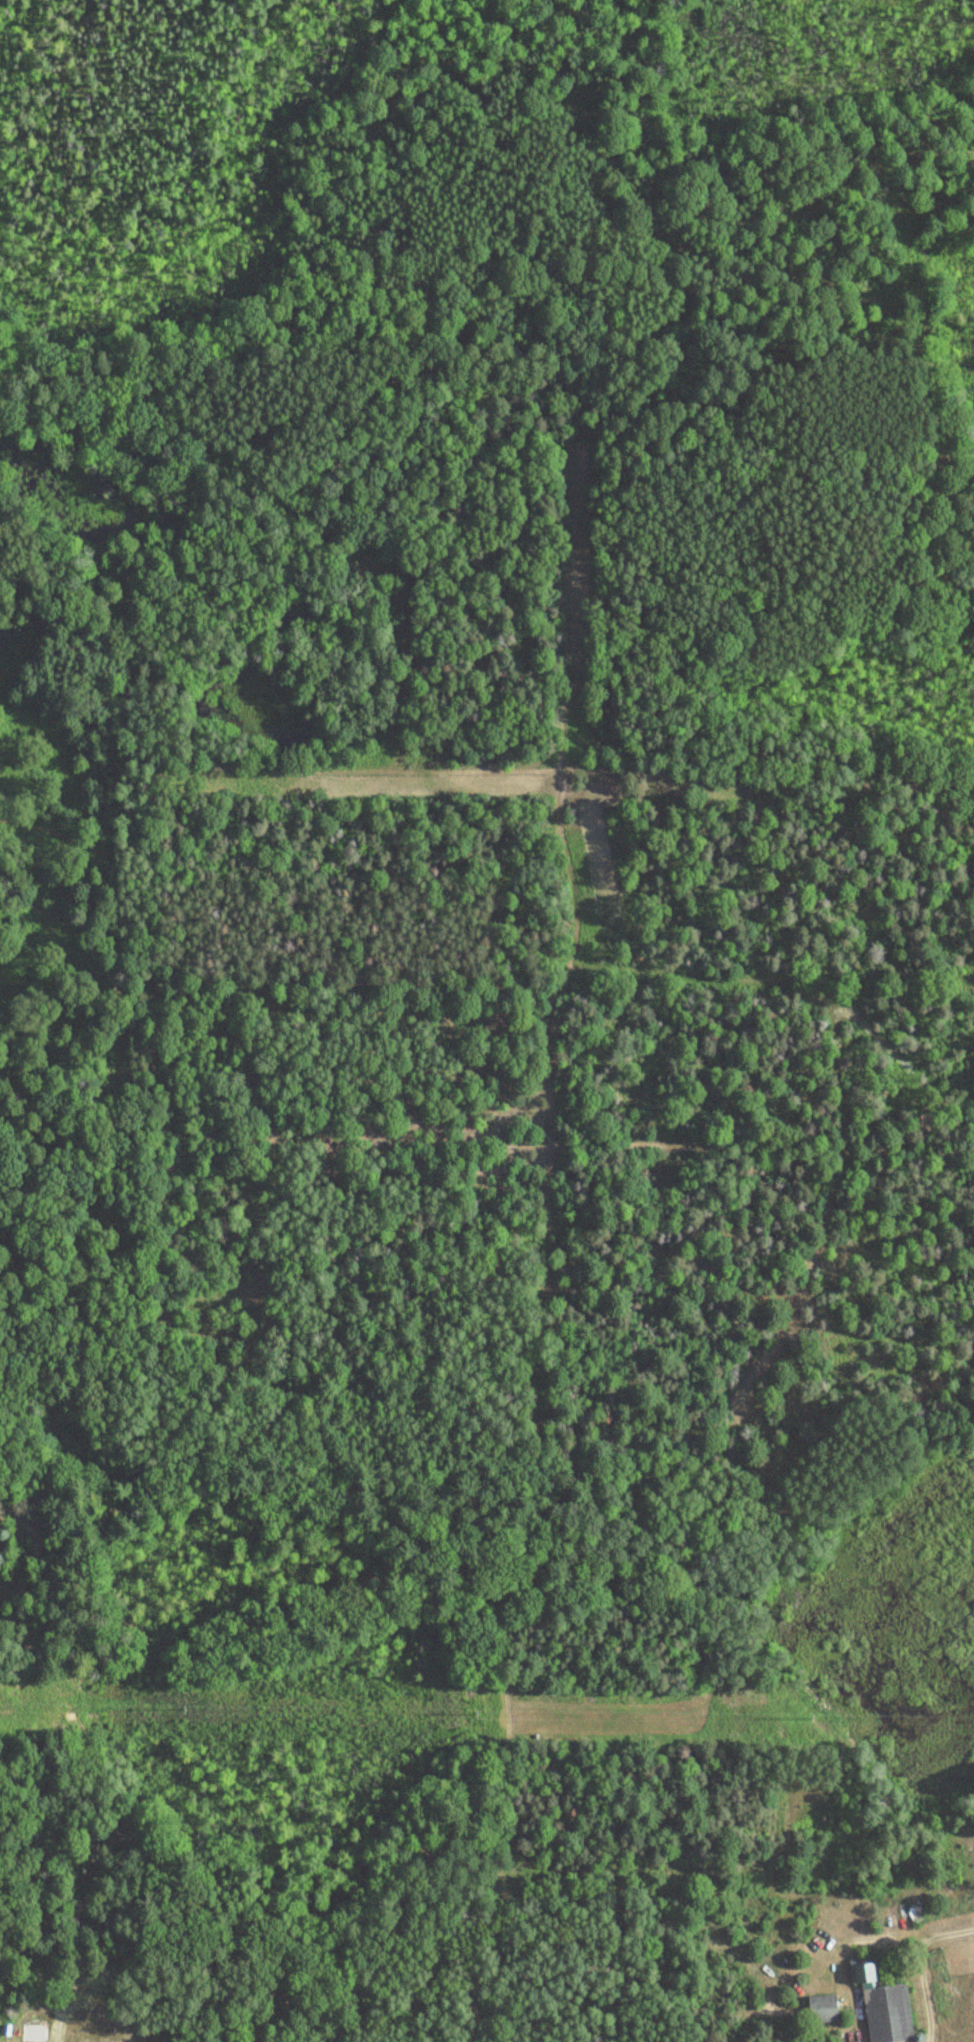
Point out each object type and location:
building: (915, 1914)
road: (917, 1936)
building: (884, 2006)
building: (826, 2008)

